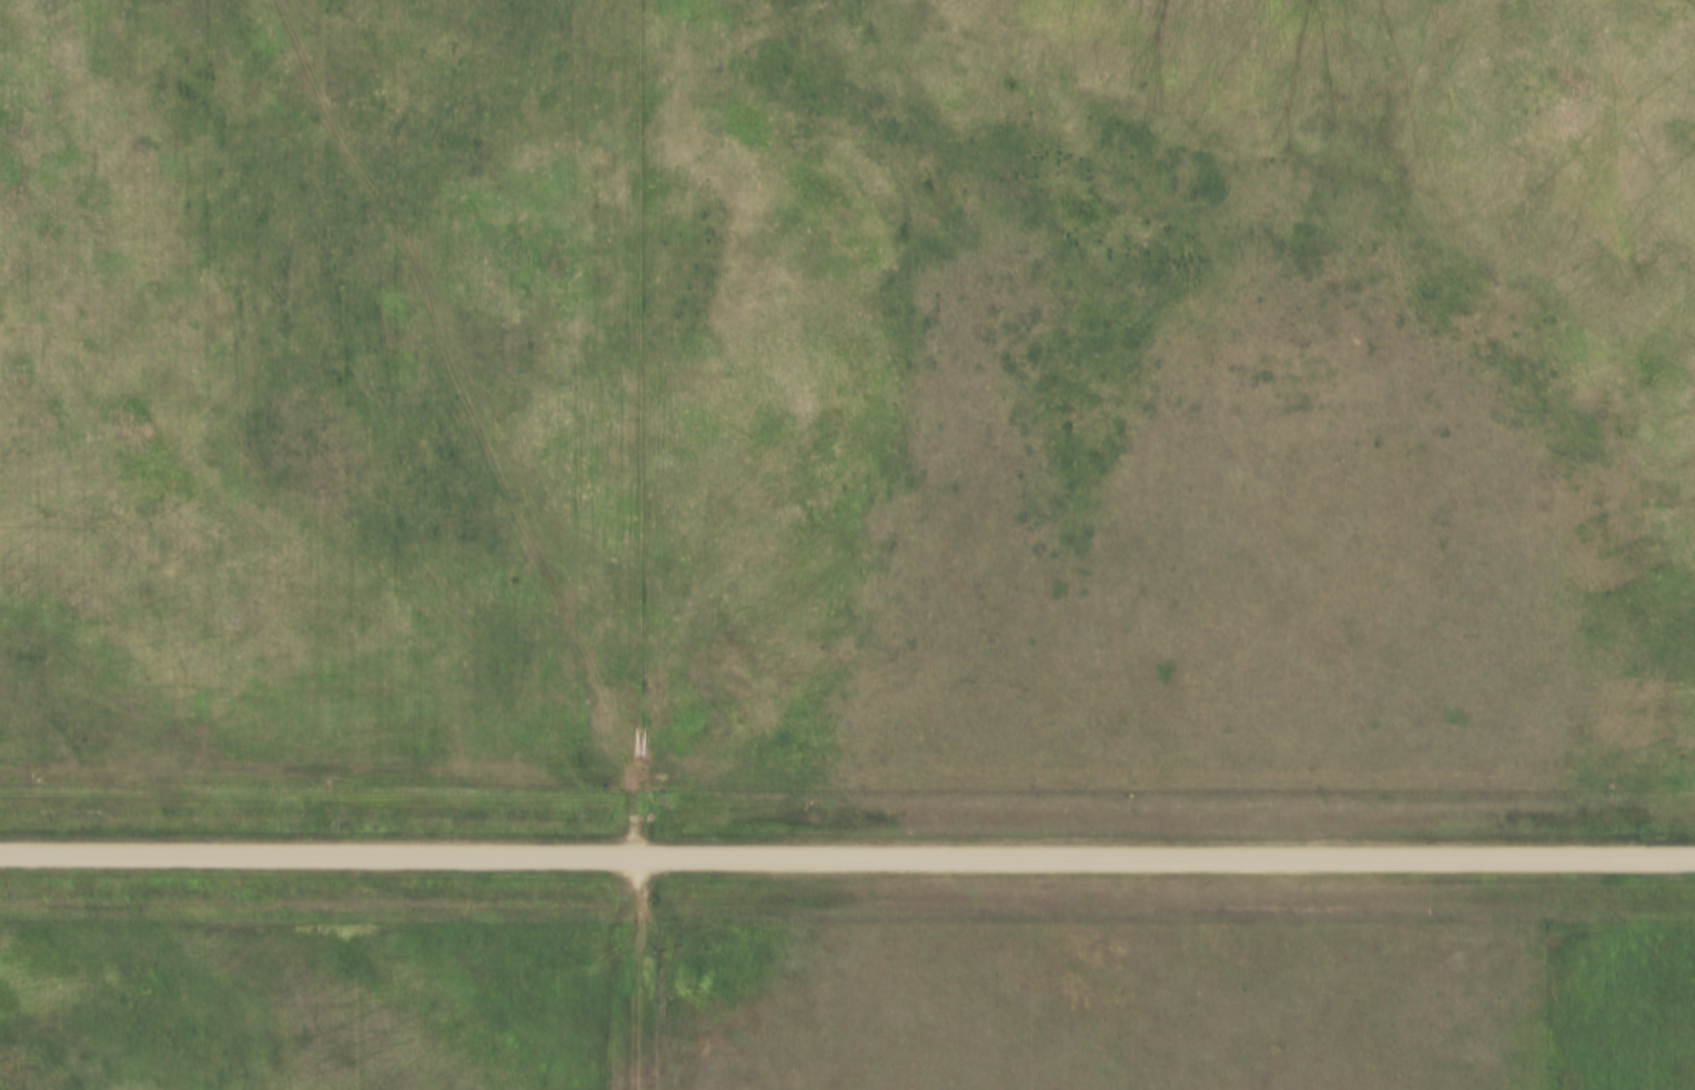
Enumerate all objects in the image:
road: (847, 852)
road: (633, 940)

